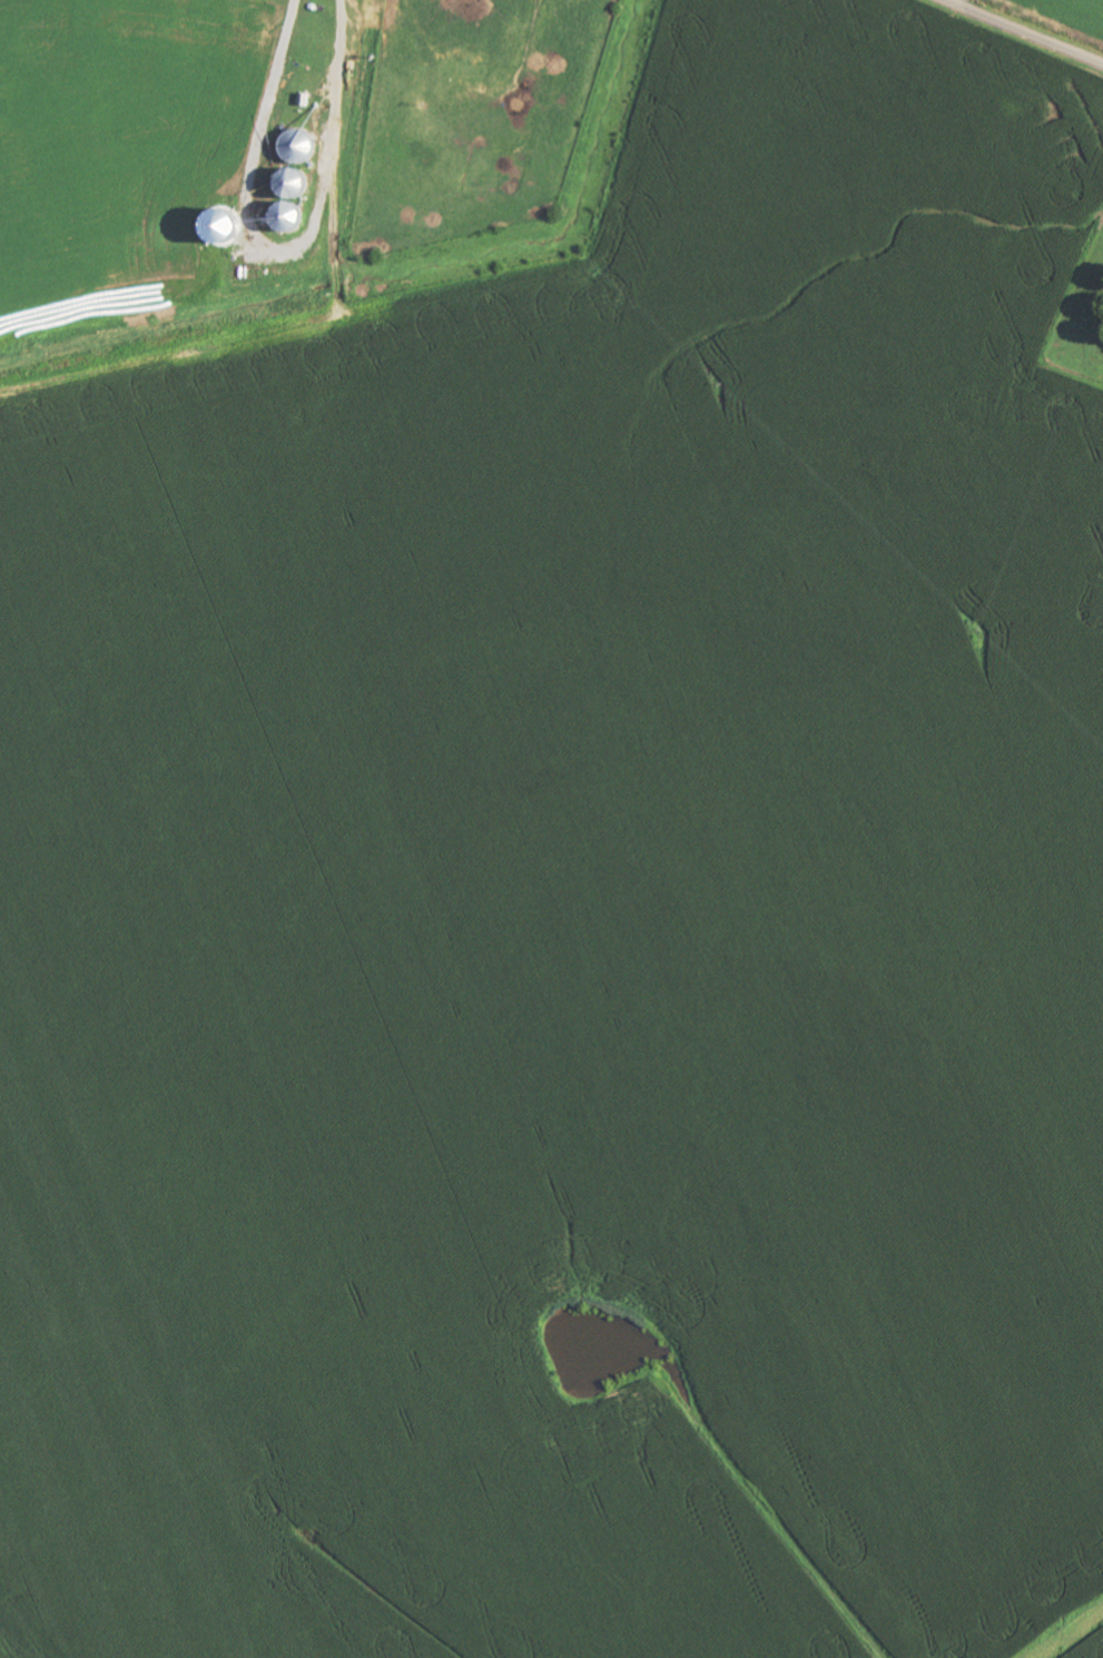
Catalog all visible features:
road: (1022, 32)
building: (296, 96)

